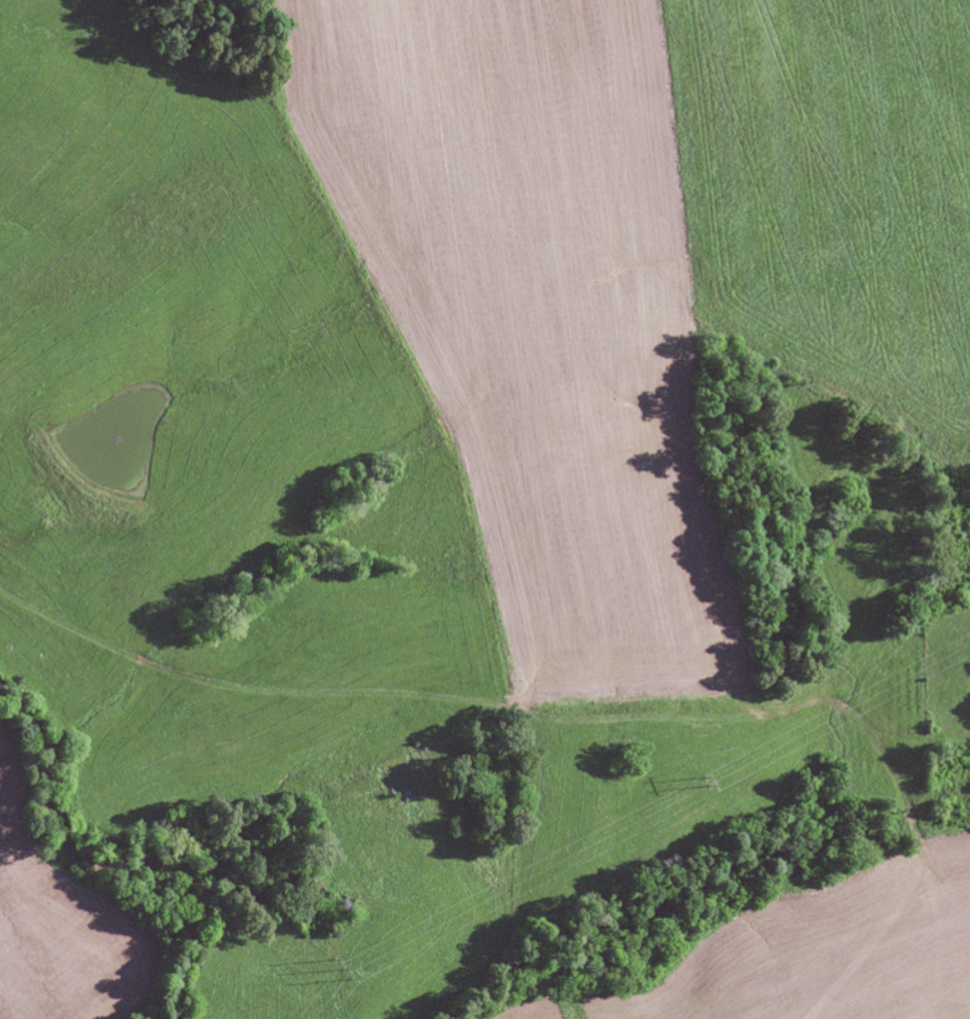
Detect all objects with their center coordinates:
building: (400, 785)

